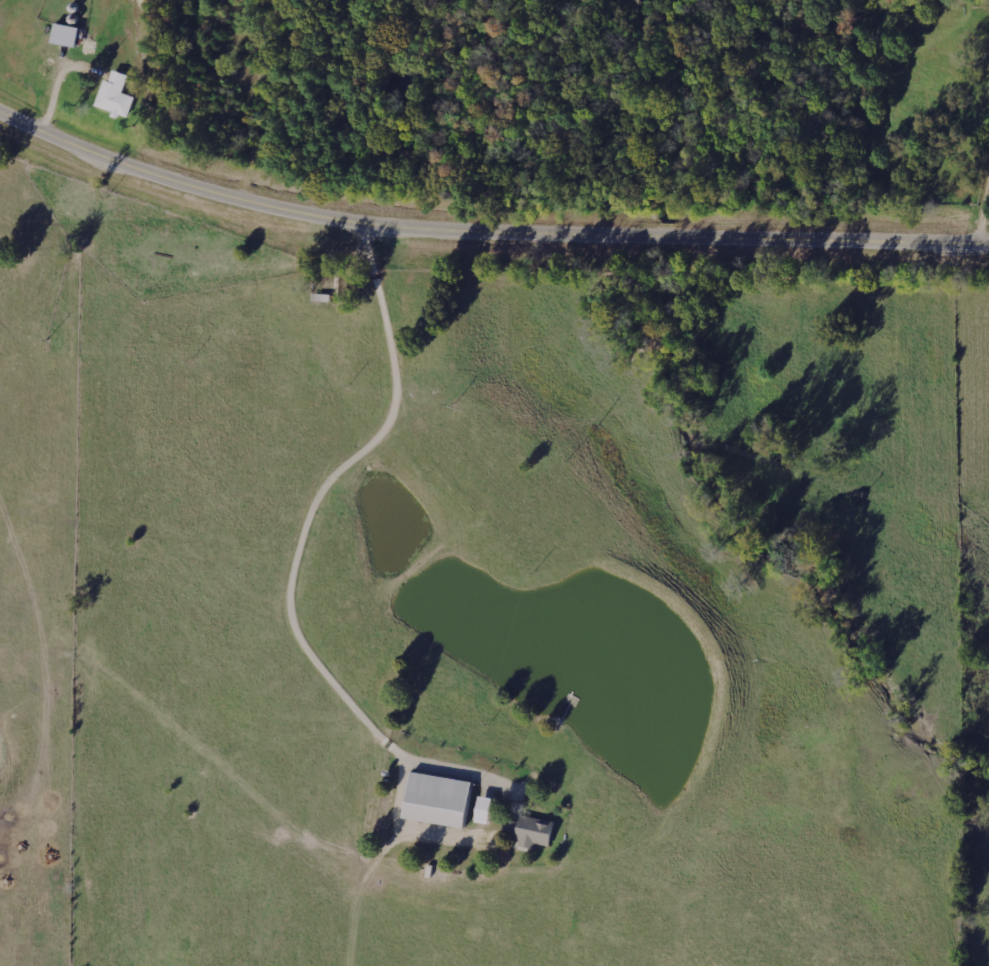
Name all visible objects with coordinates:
building: (68, 36)
building: (117, 96)
road: (485, 234)
road: (144, 246)
road: (363, 510)
building: (441, 800)
building: (487, 809)
building: (535, 832)

